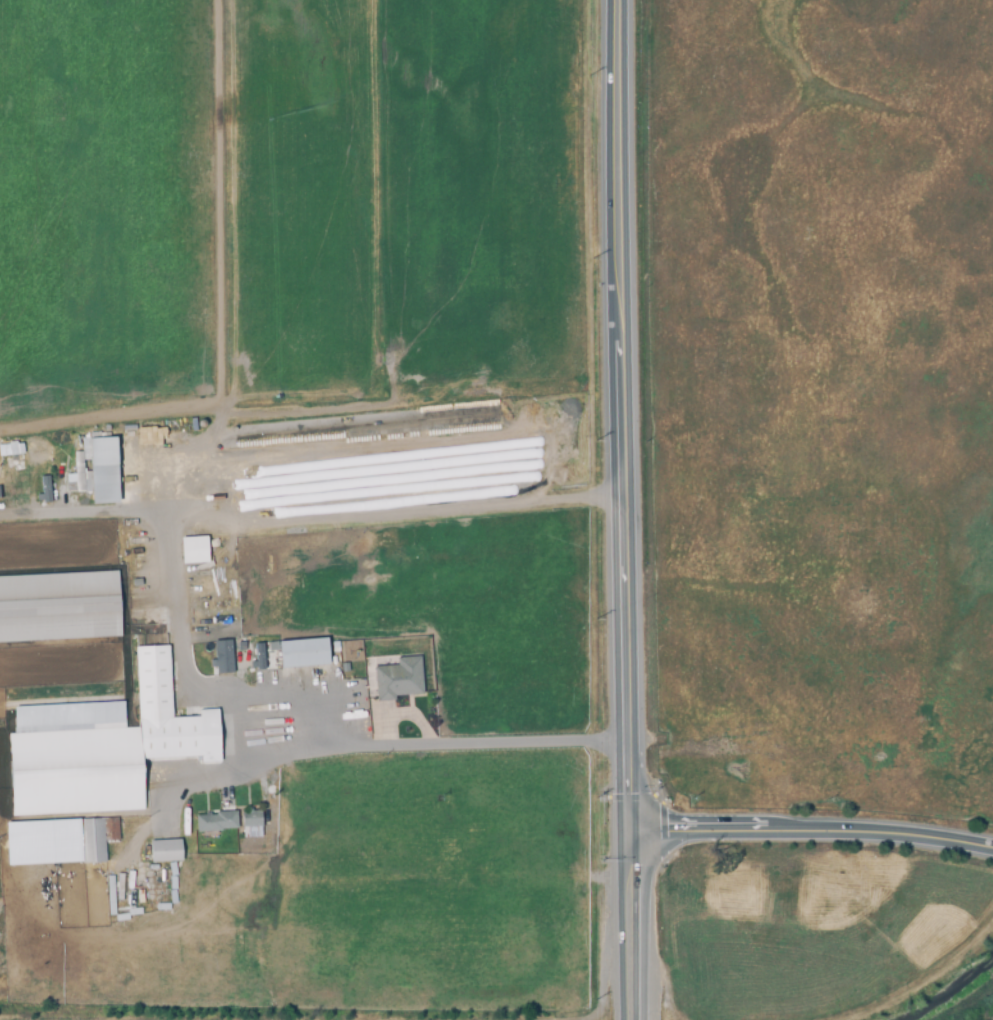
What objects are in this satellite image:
road: (625, 415)
building: (10, 448)
building: (103, 471)
building: (43, 489)
road: (313, 513)
building: (192, 549)
building: (59, 607)
building: (303, 653)
building: (223, 655)
building: (257, 657)
road: (182, 677)
building: (398, 680)
road: (479, 744)
building: (92, 757)
road: (249, 776)
building: (266, 808)
building: (251, 819)
building: (216, 822)
road: (813, 833)
building: (91, 841)
building: (165, 852)
building: (167, 888)
building: (129, 910)
road: (634, 925)
road: (604, 981)

